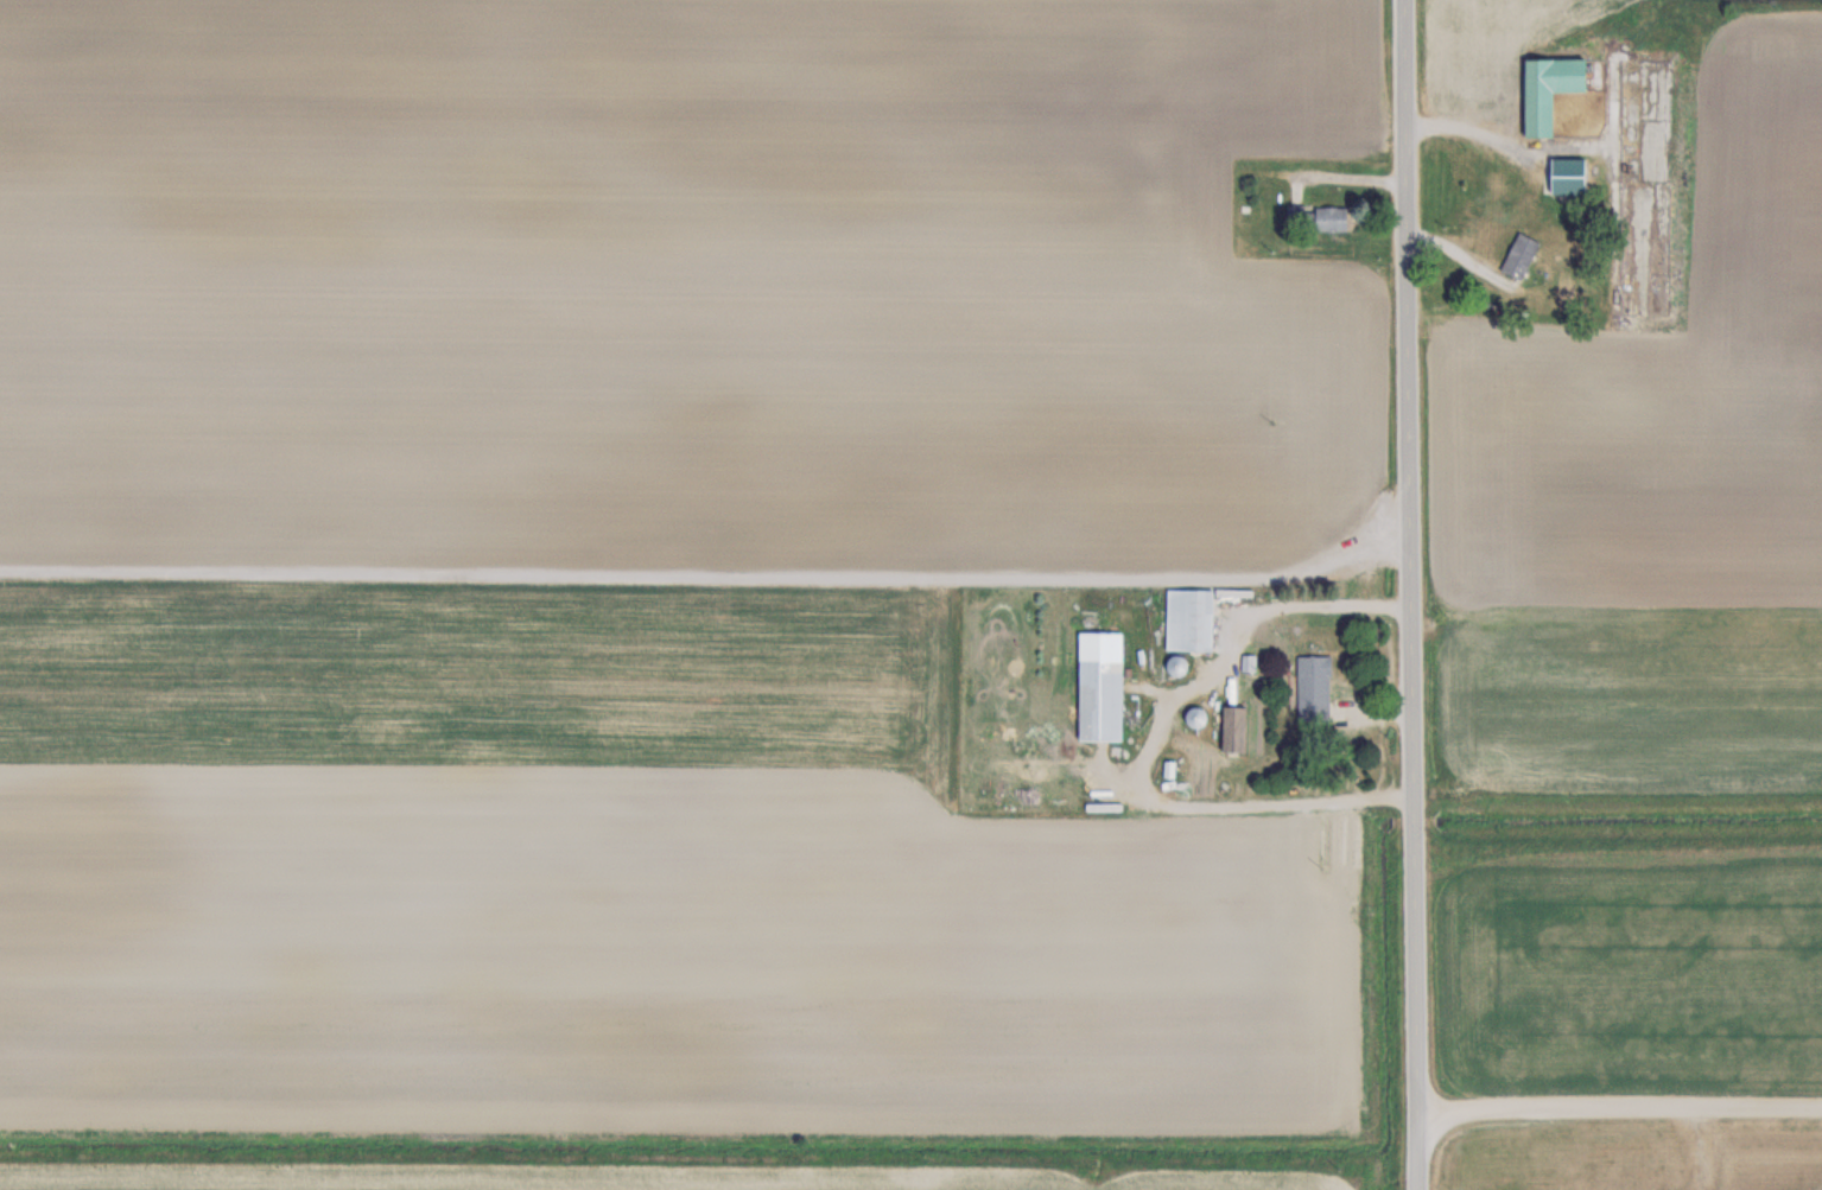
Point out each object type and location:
building: (1545, 89)
building: (1562, 177)
building: (1320, 217)
building: (1518, 255)
road: (1414, 594)
building: (1188, 619)
building: (1098, 686)
building: (1312, 688)
building: (1193, 717)
building: (1233, 730)
road: (1620, 1105)

